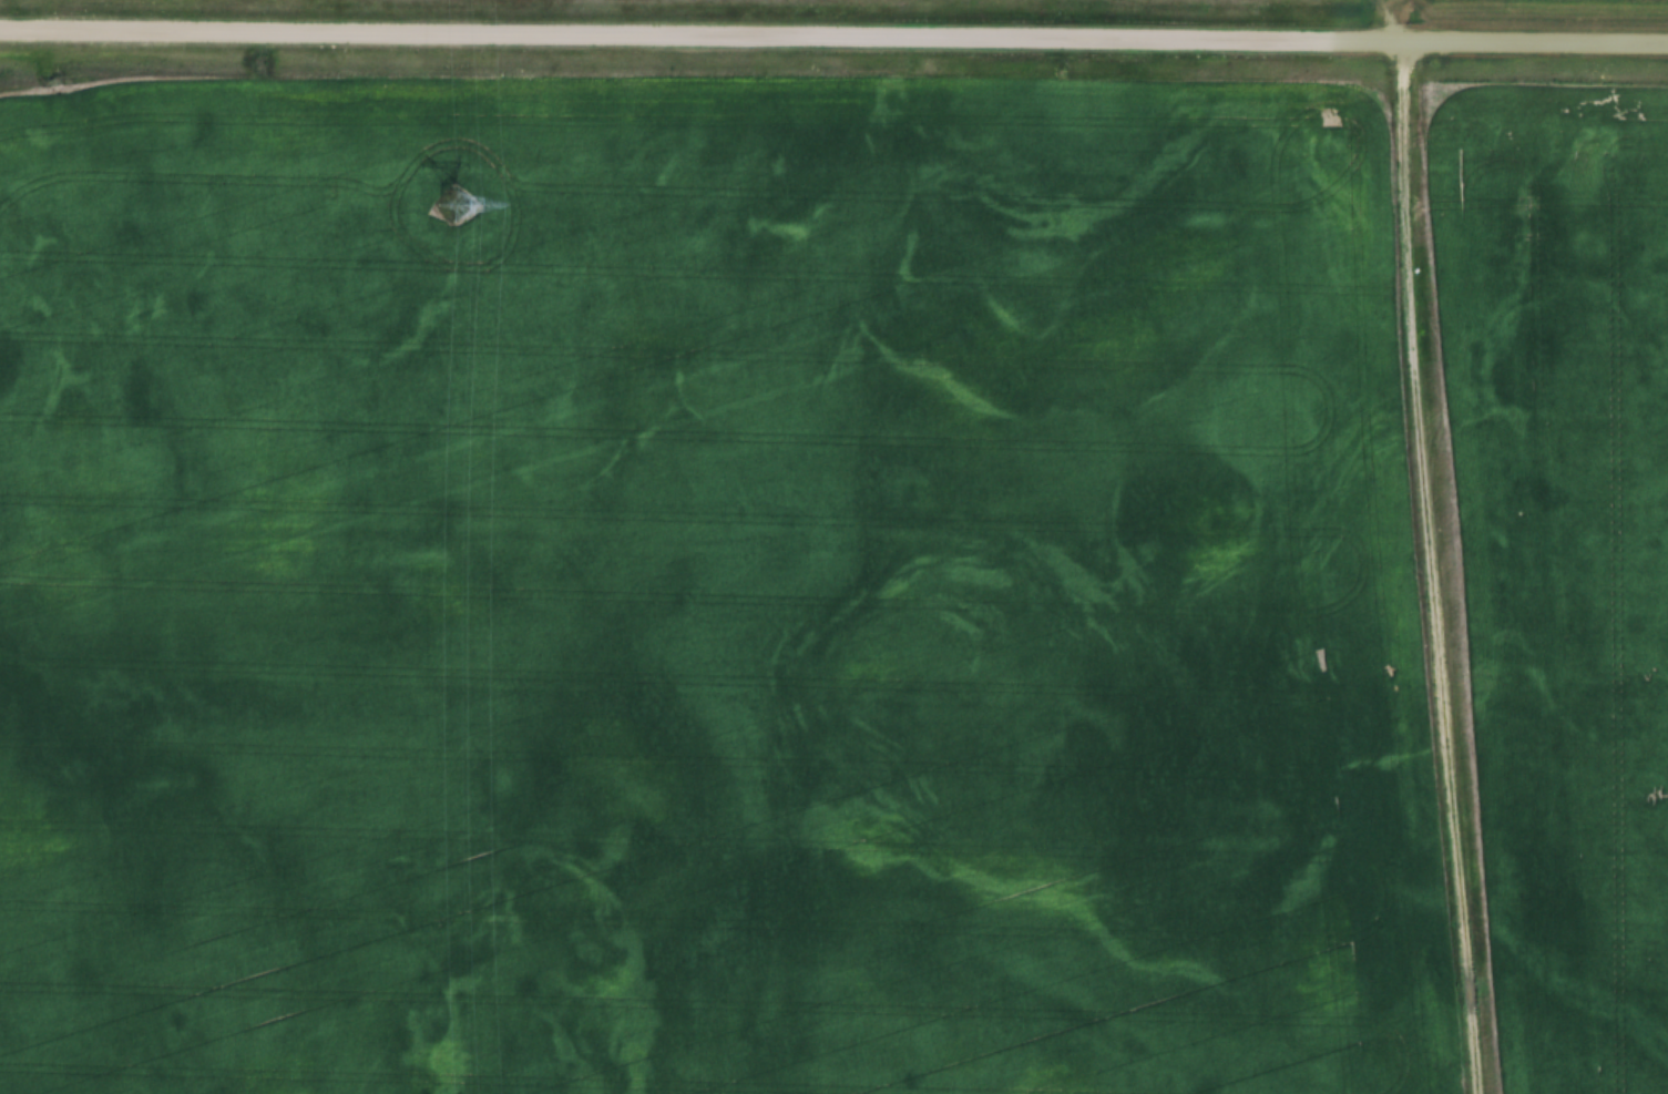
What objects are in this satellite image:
road: (833, 35)
power tower: (454, 202)
road: (1421, 566)

